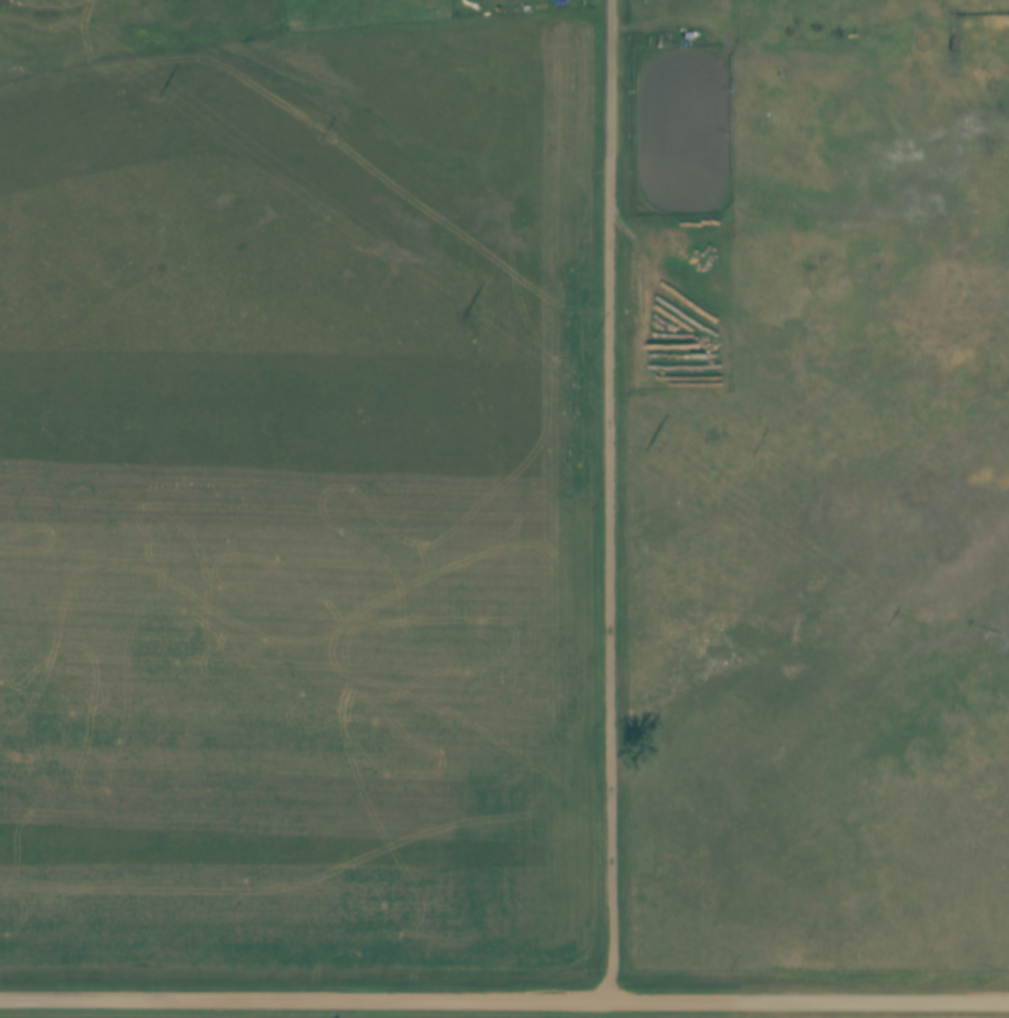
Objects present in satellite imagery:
road: (609, 498)
road: (504, 996)

